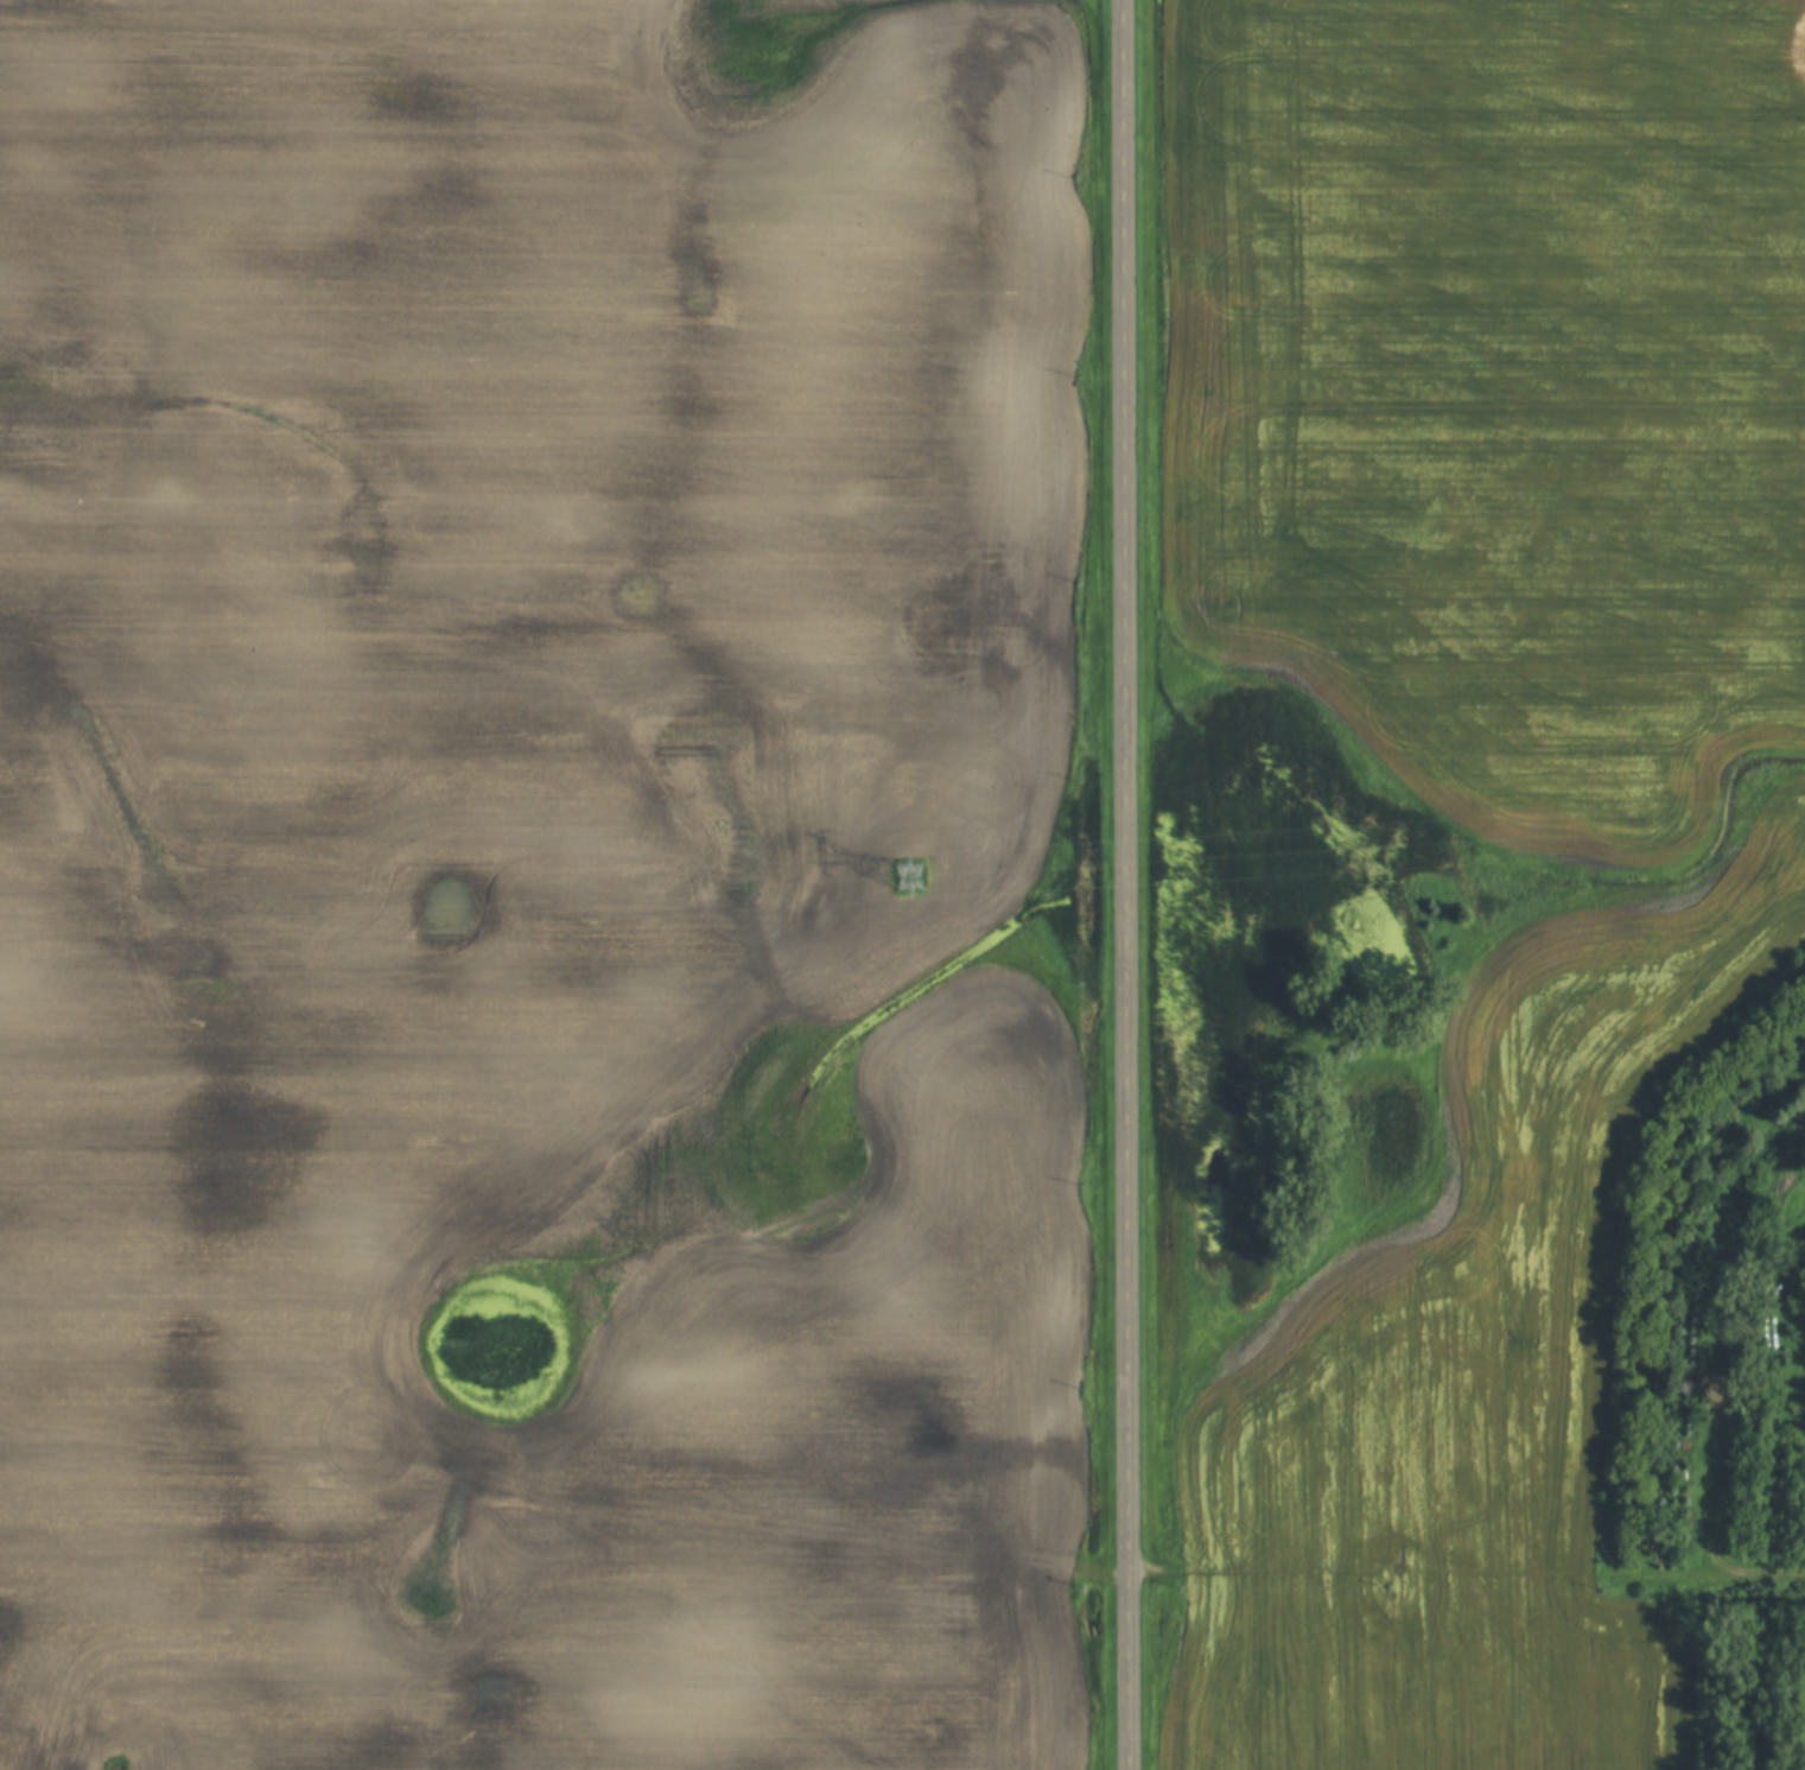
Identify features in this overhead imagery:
power tower: (905, 876)
road: (1126, 884)

